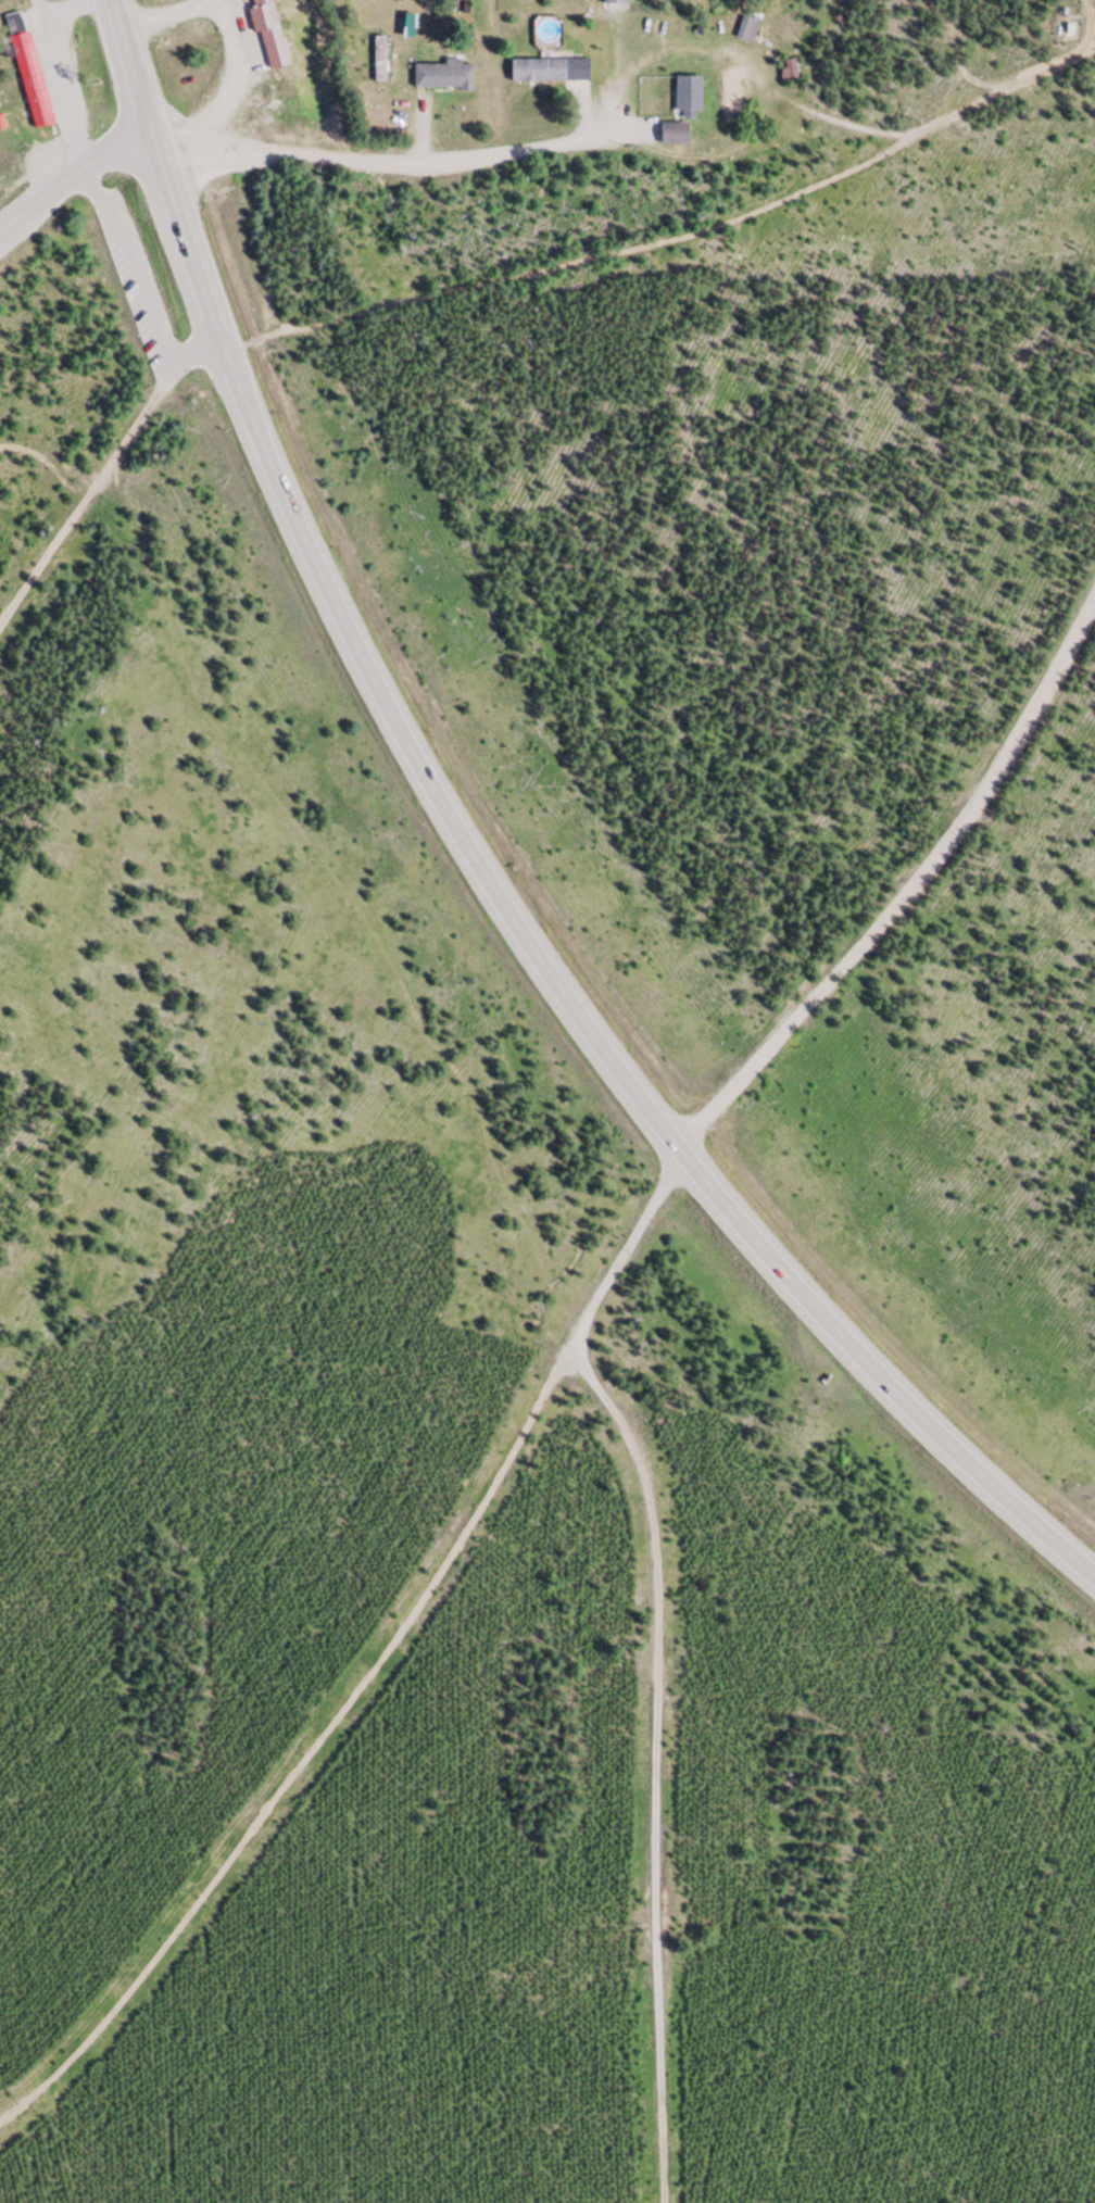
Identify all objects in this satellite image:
building: (615, 2)
building: (14, 25)
building: (747, 30)
building: (268, 33)
building: (788, 71)
building: (550, 72)
building: (444, 77)
building: (33, 81)
building: (688, 96)
building: (674, 136)
road: (391, 163)
road: (72, 176)
road: (669, 237)
road: (134, 262)
road: (182, 360)
road: (81, 508)
road: (480, 864)
road: (909, 888)
road: (376, 1662)
road: (657, 1765)

